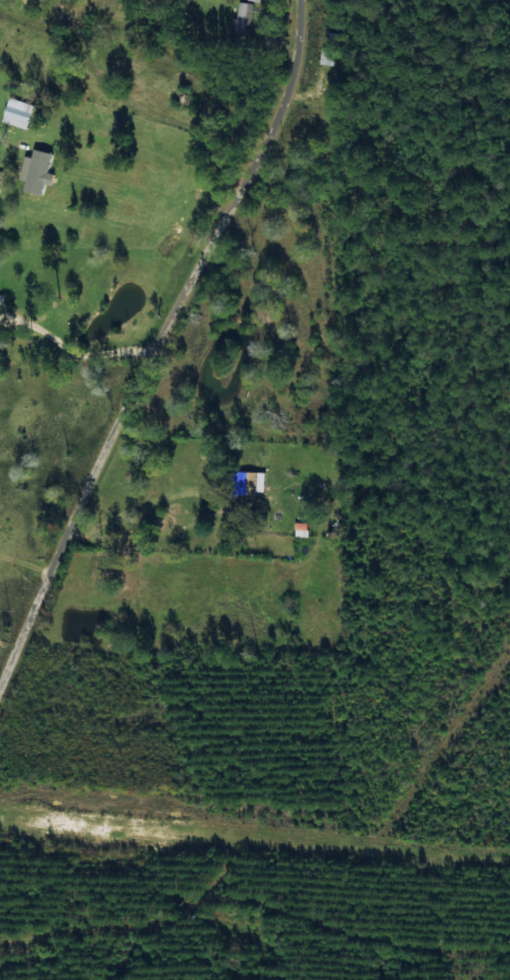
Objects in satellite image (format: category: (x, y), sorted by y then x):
building: (242, 18)
building: (327, 50)
building: (16, 113)
building: (37, 171)
road: (162, 370)
building: (245, 487)

